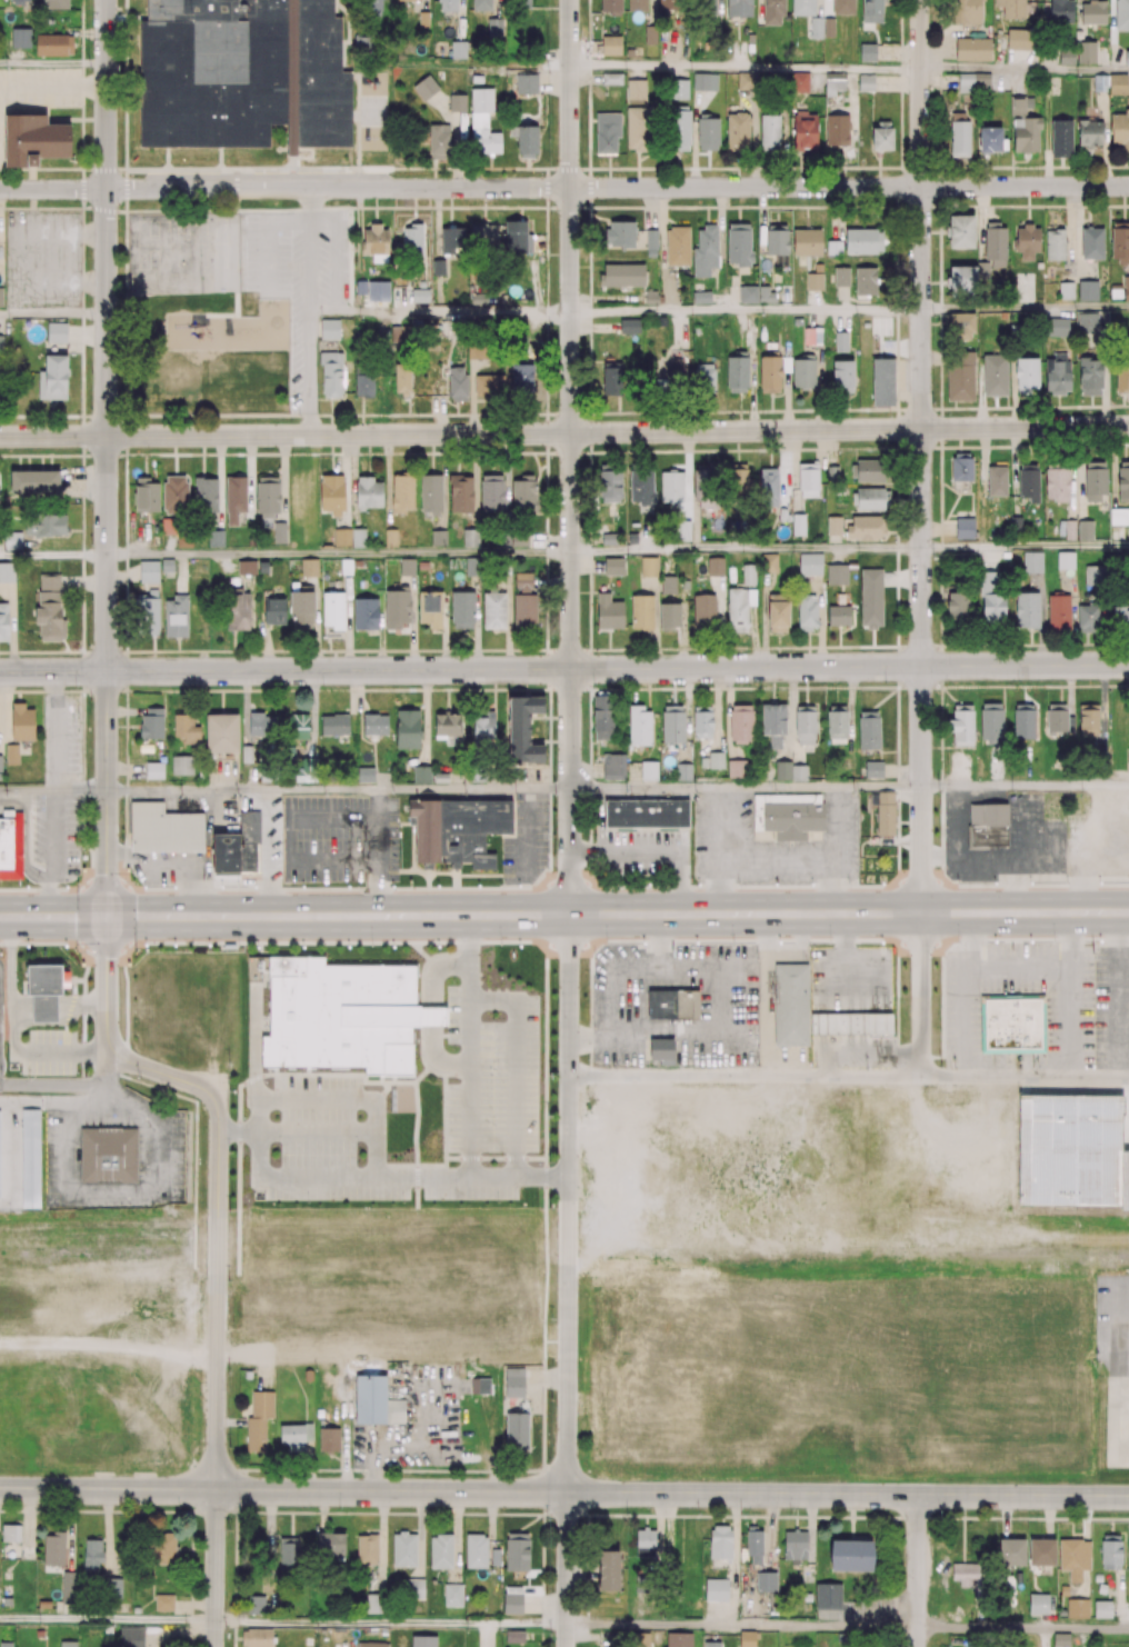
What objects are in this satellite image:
building: (611, 44)
building: (867, 51)
building: (629, 52)
building: (1086, 52)
building: (1127, 57)
road: (53, 64)
road: (745, 68)
road: (1025, 71)
building: (611, 78)
building: (799, 81)
building: (865, 81)
building: (527, 83)
road: (53, 87)
building: (426, 87)
building: (457, 101)
building: (607, 131)
building: (1060, 138)
building: (33, 141)
road: (564, 188)
road: (309, 204)
road: (267, 232)
building: (806, 241)
building: (1055, 243)
building: (677, 246)
road: (336, 250)
building: (840, 276)
building: (1126, 288)
building: (1066, 289)
building: (1087, 290)
building: (1116, 290)
building: (765, 295)
building: (1, 296)
building: (700, 297)
road: (331, 308)
road: (461, 308)
road: (746, 309)
road: (1025, 310)
road: (53, 315)
road: (308, 327)
building: (840, 341)
road: (564, 433)
road: (1025, 445)
road: (921, 456)
road: (571, 457)
road: (107, 458)
building: (996, 480)
building: (963, 528)
building: (1085, 529)
road: (1025, 548)
road: (746, 551)
road: (339, 555)
road: (53, 556)
building: (1031, 560)
building: (1065, 560)
building: (769, 562)
building: (809, 563)
building: (612, 566)
building: (648, 567)
building: (836, 575)
building: (667, 585)
building: (333, 610)
building: (608, 612)
building: (364, 615)
building: (838, 616)
road: (1025, 642)
road: (564, 669)
building: (151, 722)
building: (527, 731)
building: (221, 735)
building: (11, 753)
building: (1128, 756)
building: (736, 768)
building: (873, 769)
road: (1025, 787)
road: (746, 788)
road: (53, 789)
road: (338, 789)
building: (1078, 809)
building: (885, 811)
building: (649, 816)
building: (790, 817)
road: (601, 821)
building: (991, 828)
building: (164, 831)
building: (461, 831)
building: (251, 844)
building: (12, 847)
road: (656, 852)
building: (228, 855)
road: (172, 859)
street lamp: (1010, 881)
street lamp: (883, 882)
street lamp: (772, 884)
street lamp: (400, 885)
street lamp: (533, 885)
street lamp: (655, 885)
street lamp: (2, 886)
street lamp: (141, 887)
street lamp: (258, 888)
road: (683, 914)
road: (53, 916)
traffic signals: (107, 916)
road: (172, 916)
street lamp: (950, 939)
street lamp: (1087, 940)
street lamp: (827, 941)
street lamp: (200, 942)
street lamp: (447, 944)
street lamp: (601, 944)
street lamp: (715, 944)
street lamp: (64, 946)
street lamp: (332, 946)
road: (781, 952)
building: (47, 980)
road: (623, 984)
road: (921, 995)
building: (675, 1006)
building: (46, 1007)
building: (793, 1007)
road: (766, 1015)
building: (343, 1016)
building: (852, 1026)
building: (1013, 1026)
building: (666, 1051)
road: (518, 1066)
road: (745, 1077)
road: (1025, 1077)
road: (66, 1086)
road: (353, 1098)
parking lot: (492, 1098)
road: (417, 1128)
road: (294, 1130)
building: (1072, 1150)
building: (110, 1156)
road: (496, 1158)
building: (32, 1159)
building: (0, 1160)
road: (218, 1167)
road: (320, 1177)
building: (1127, 1184)
road: (570, 1204)
road: (108, 1489)
road: (672, 1494)
road: (214, 1568)
road: (567, 1570)
road: (917, 1571)
road: (107, 1619)
road: (390, 1621)
road: (741, 1626)
road: (1022, 1628)

